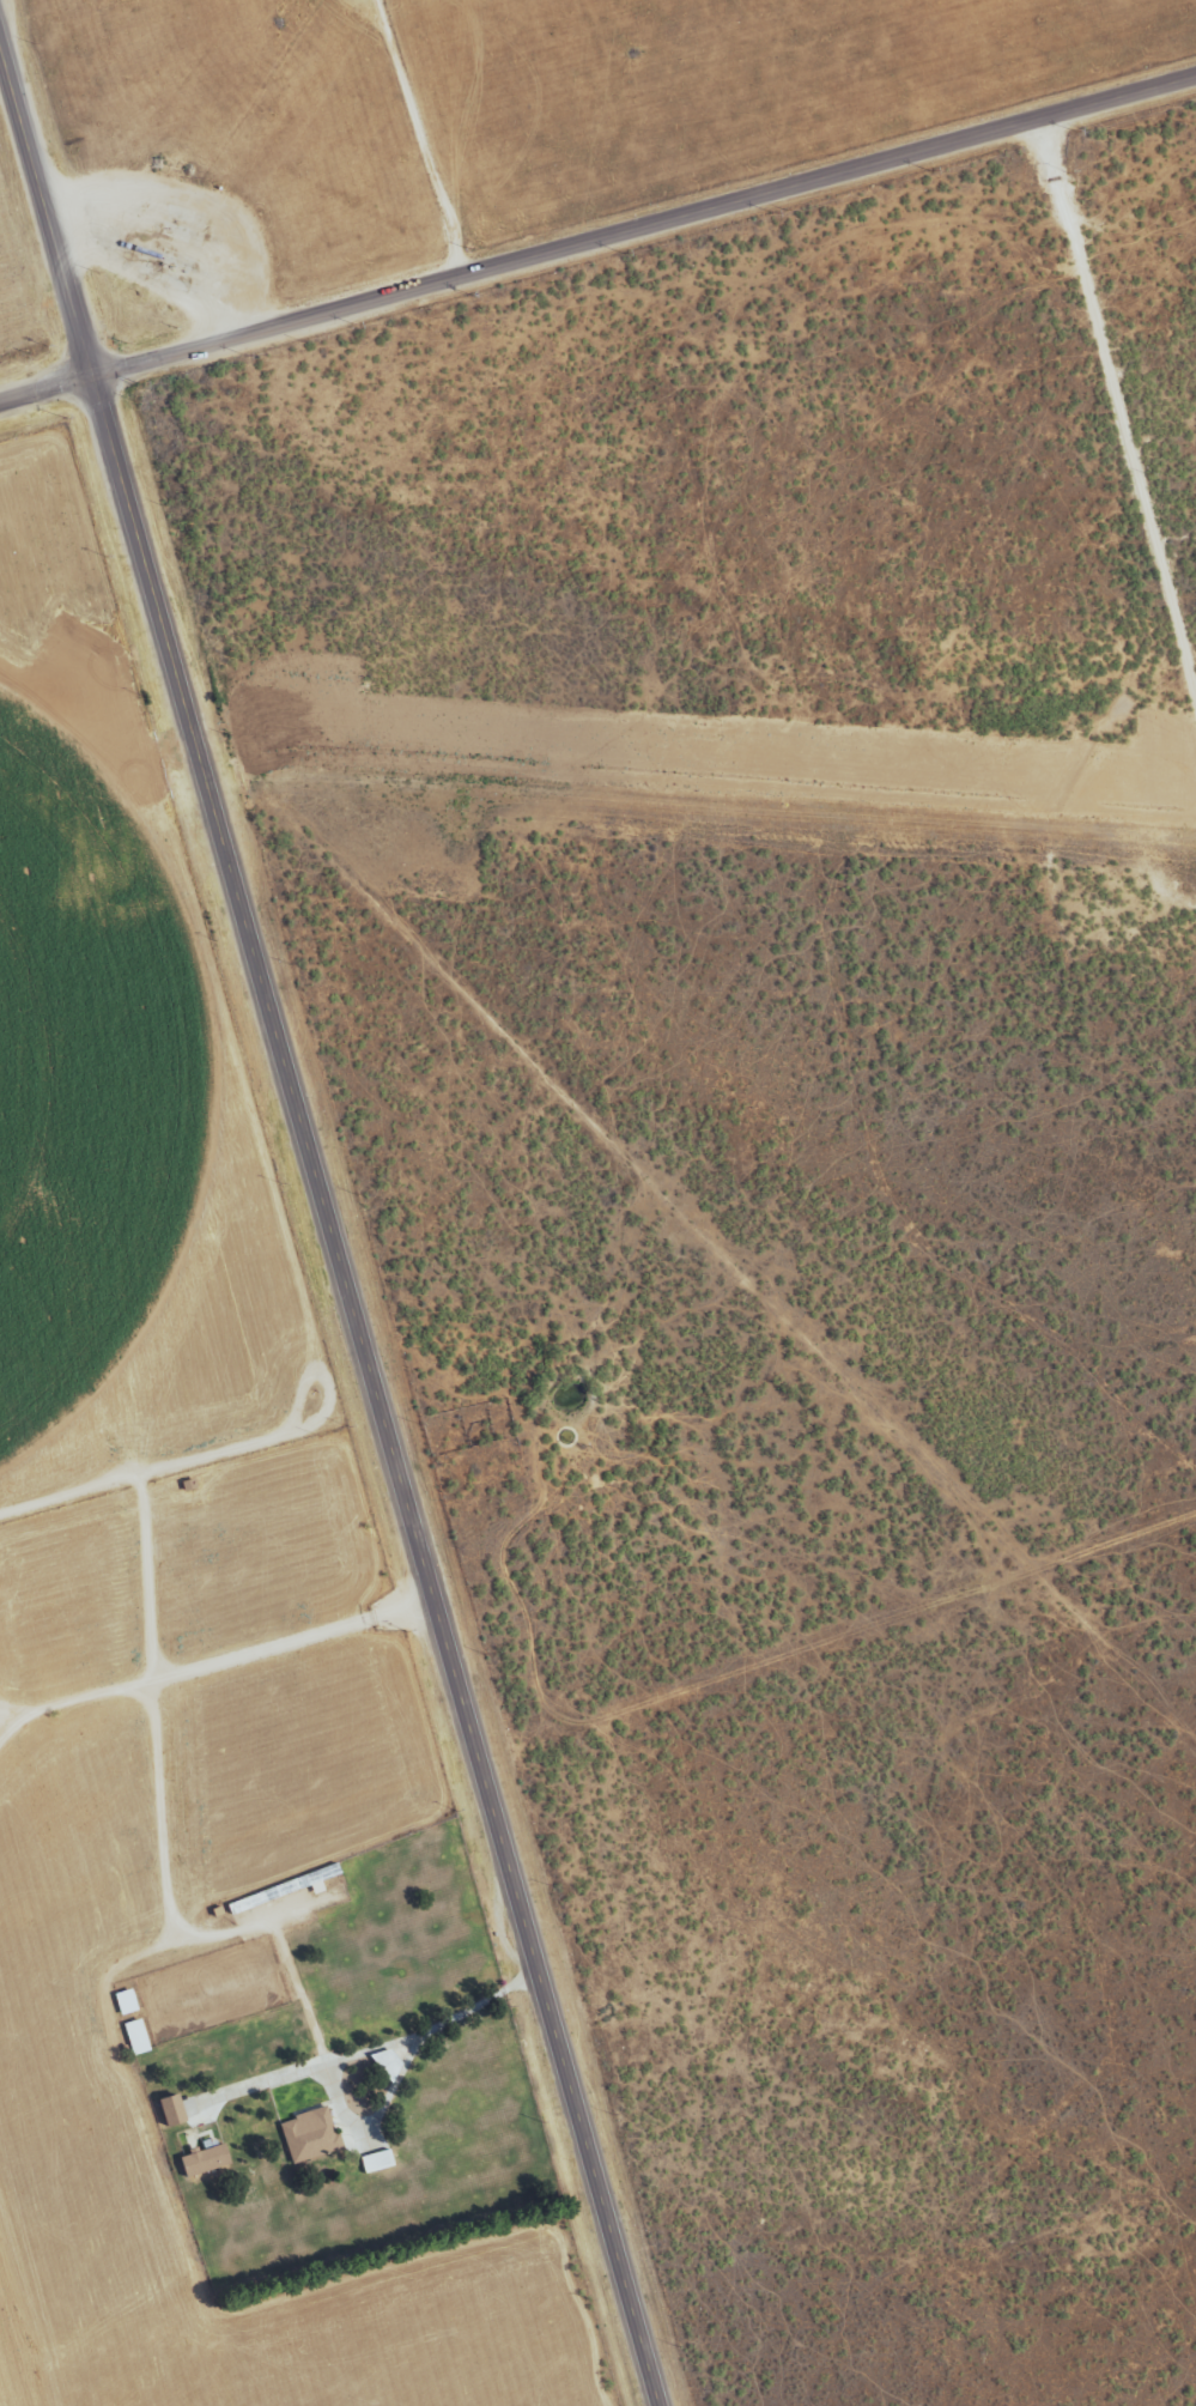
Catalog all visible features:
crop: (463, 137)
road: (424, 141)
road: (597, 246)
road: (1121, 401)
road: (329, 1229)
building: (127, 2004)
building: (174, 2113)
building: (207, 2162)

